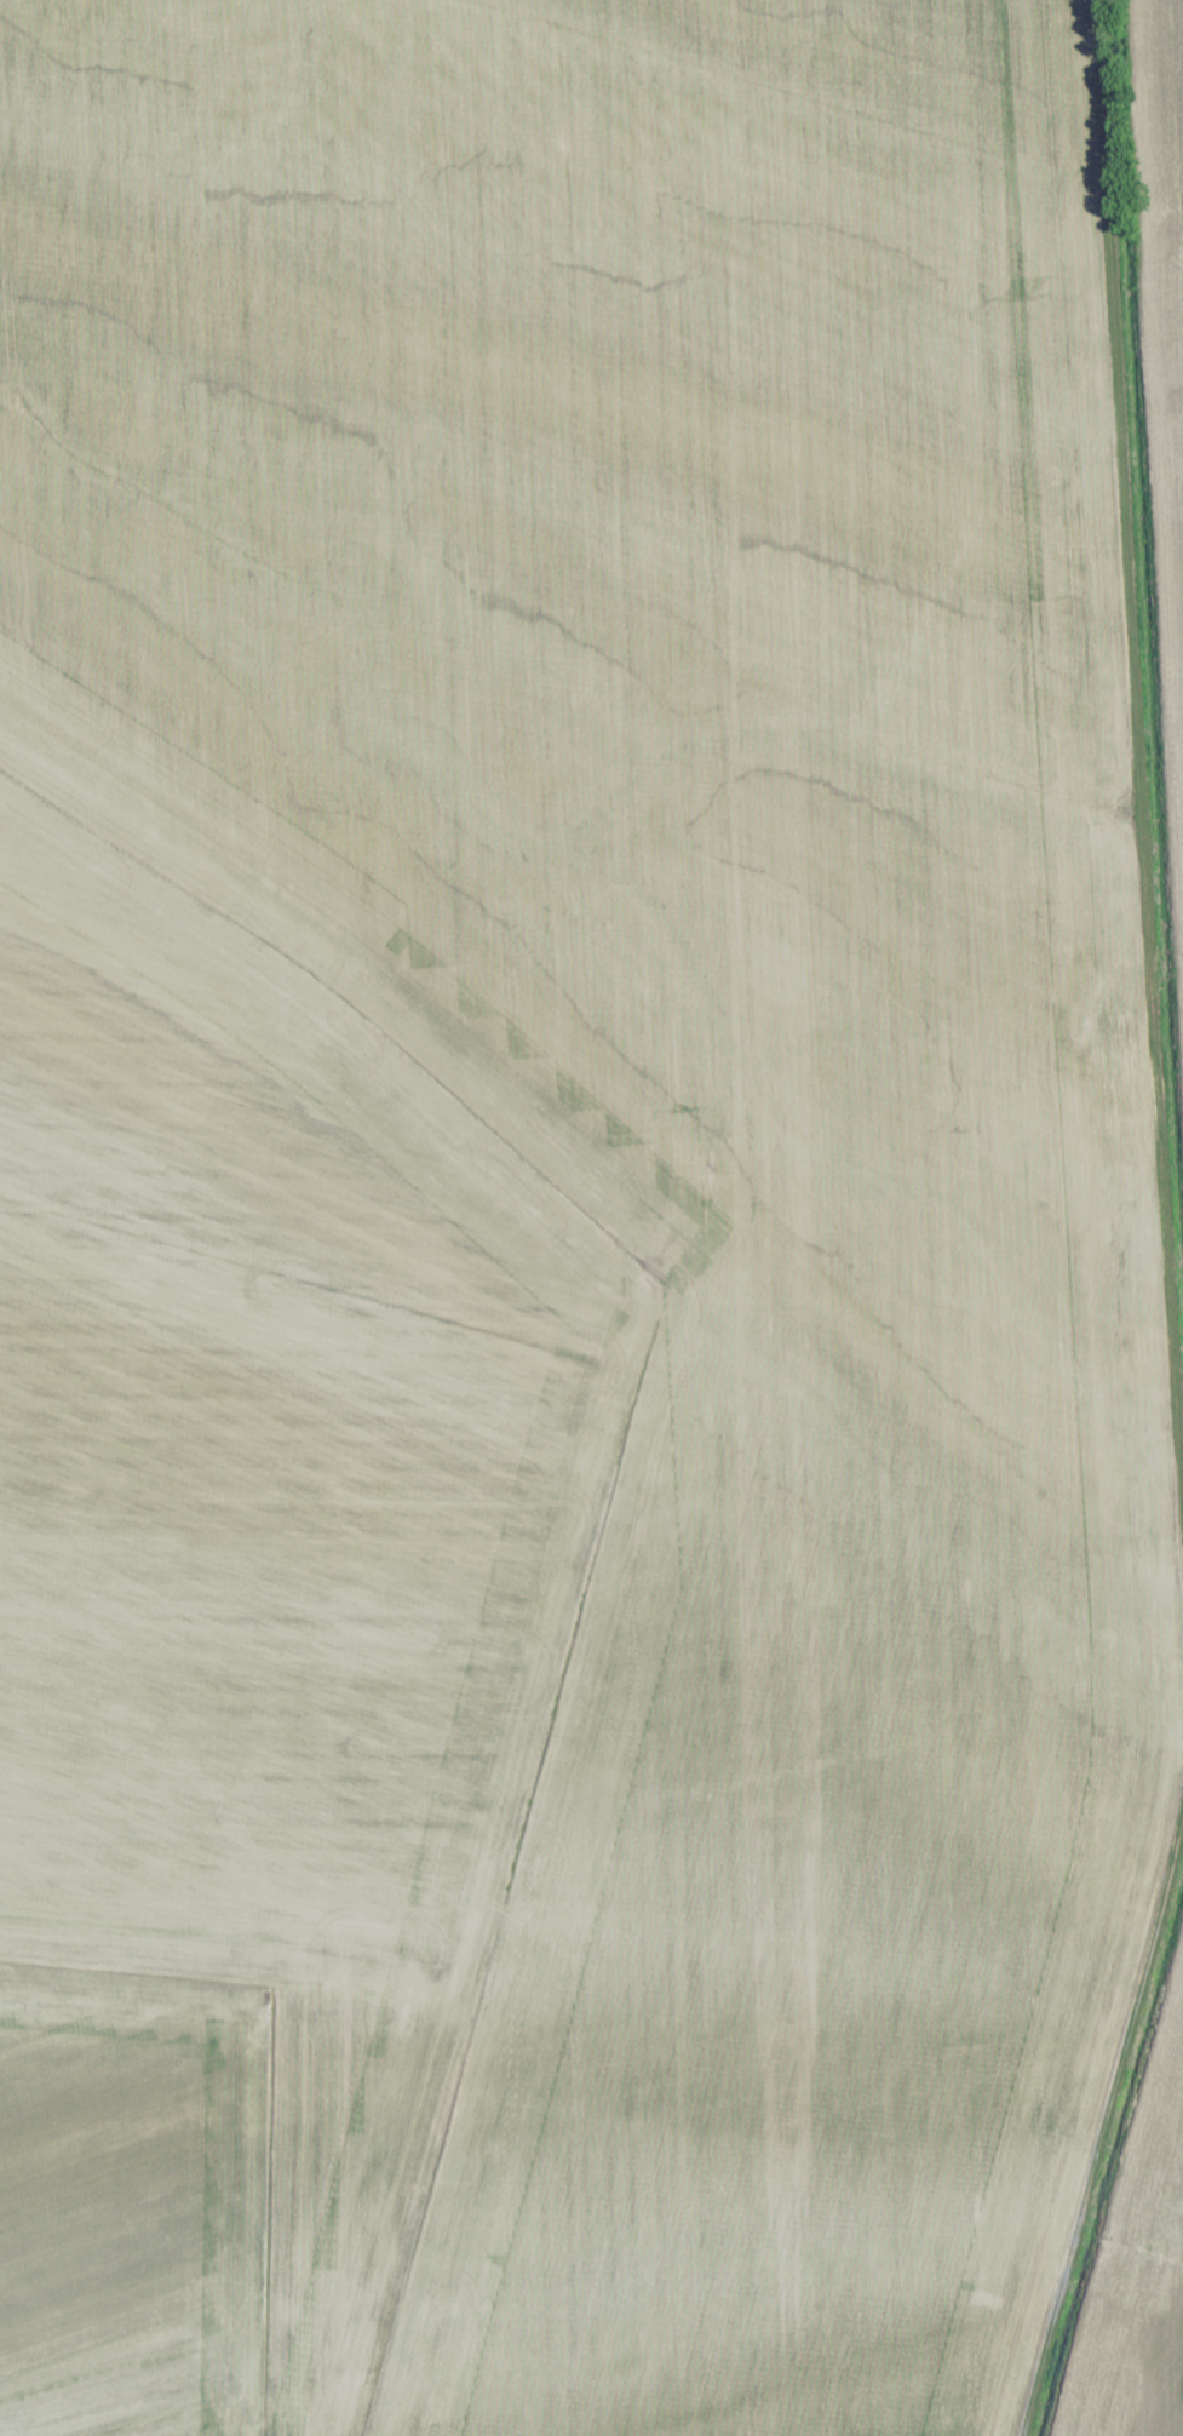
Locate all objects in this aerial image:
road: (1167, 591)
road: (1129, 2254)

